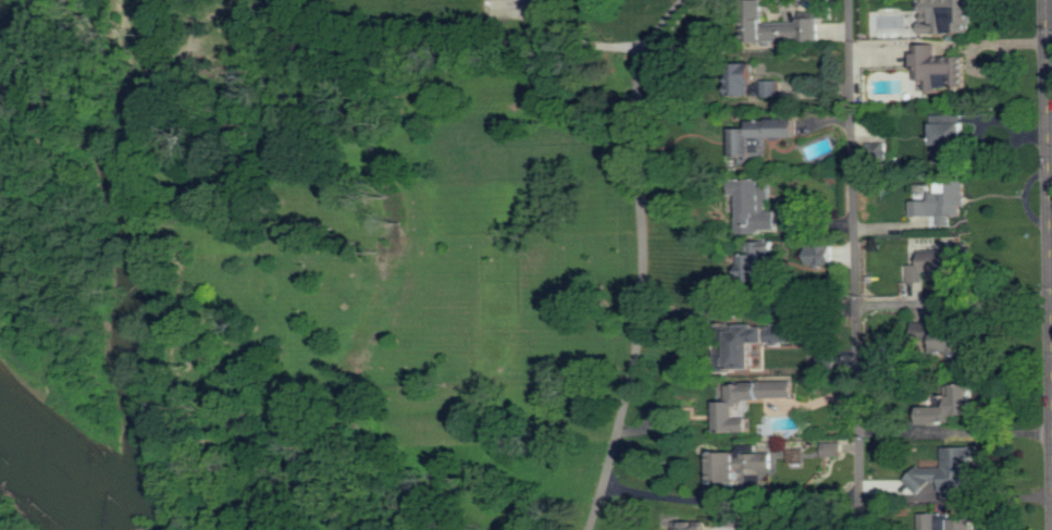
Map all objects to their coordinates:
building: (948, 16)
building: (790, 32)
road: (1050, 37)
building: (941, 67)
building: (757, 87)
building: (952, 134)
building: (764, 136)
road: (1049, 150)
building: (809, 153)
building: (944, 202)
building: (759, 208)
building: (825, 255)
road: (642, 260)
building: (762, 260)
building: (943, 262)
road: (855, 264)
road: (954, 304)
road: (748, 309)
building: (765, 338)
building: (957, 342)
building: (827, 355)
building: (748, 402)
building: (954, 404)
river: (98, 417)
building: (834, 448)
building: (767, 460)
building: (726, 469)
building: (950, 470)
road: (667, 495)
road: (955, 498)
building: (733, 518)
building: (949, 522)
building: (691, 525)

